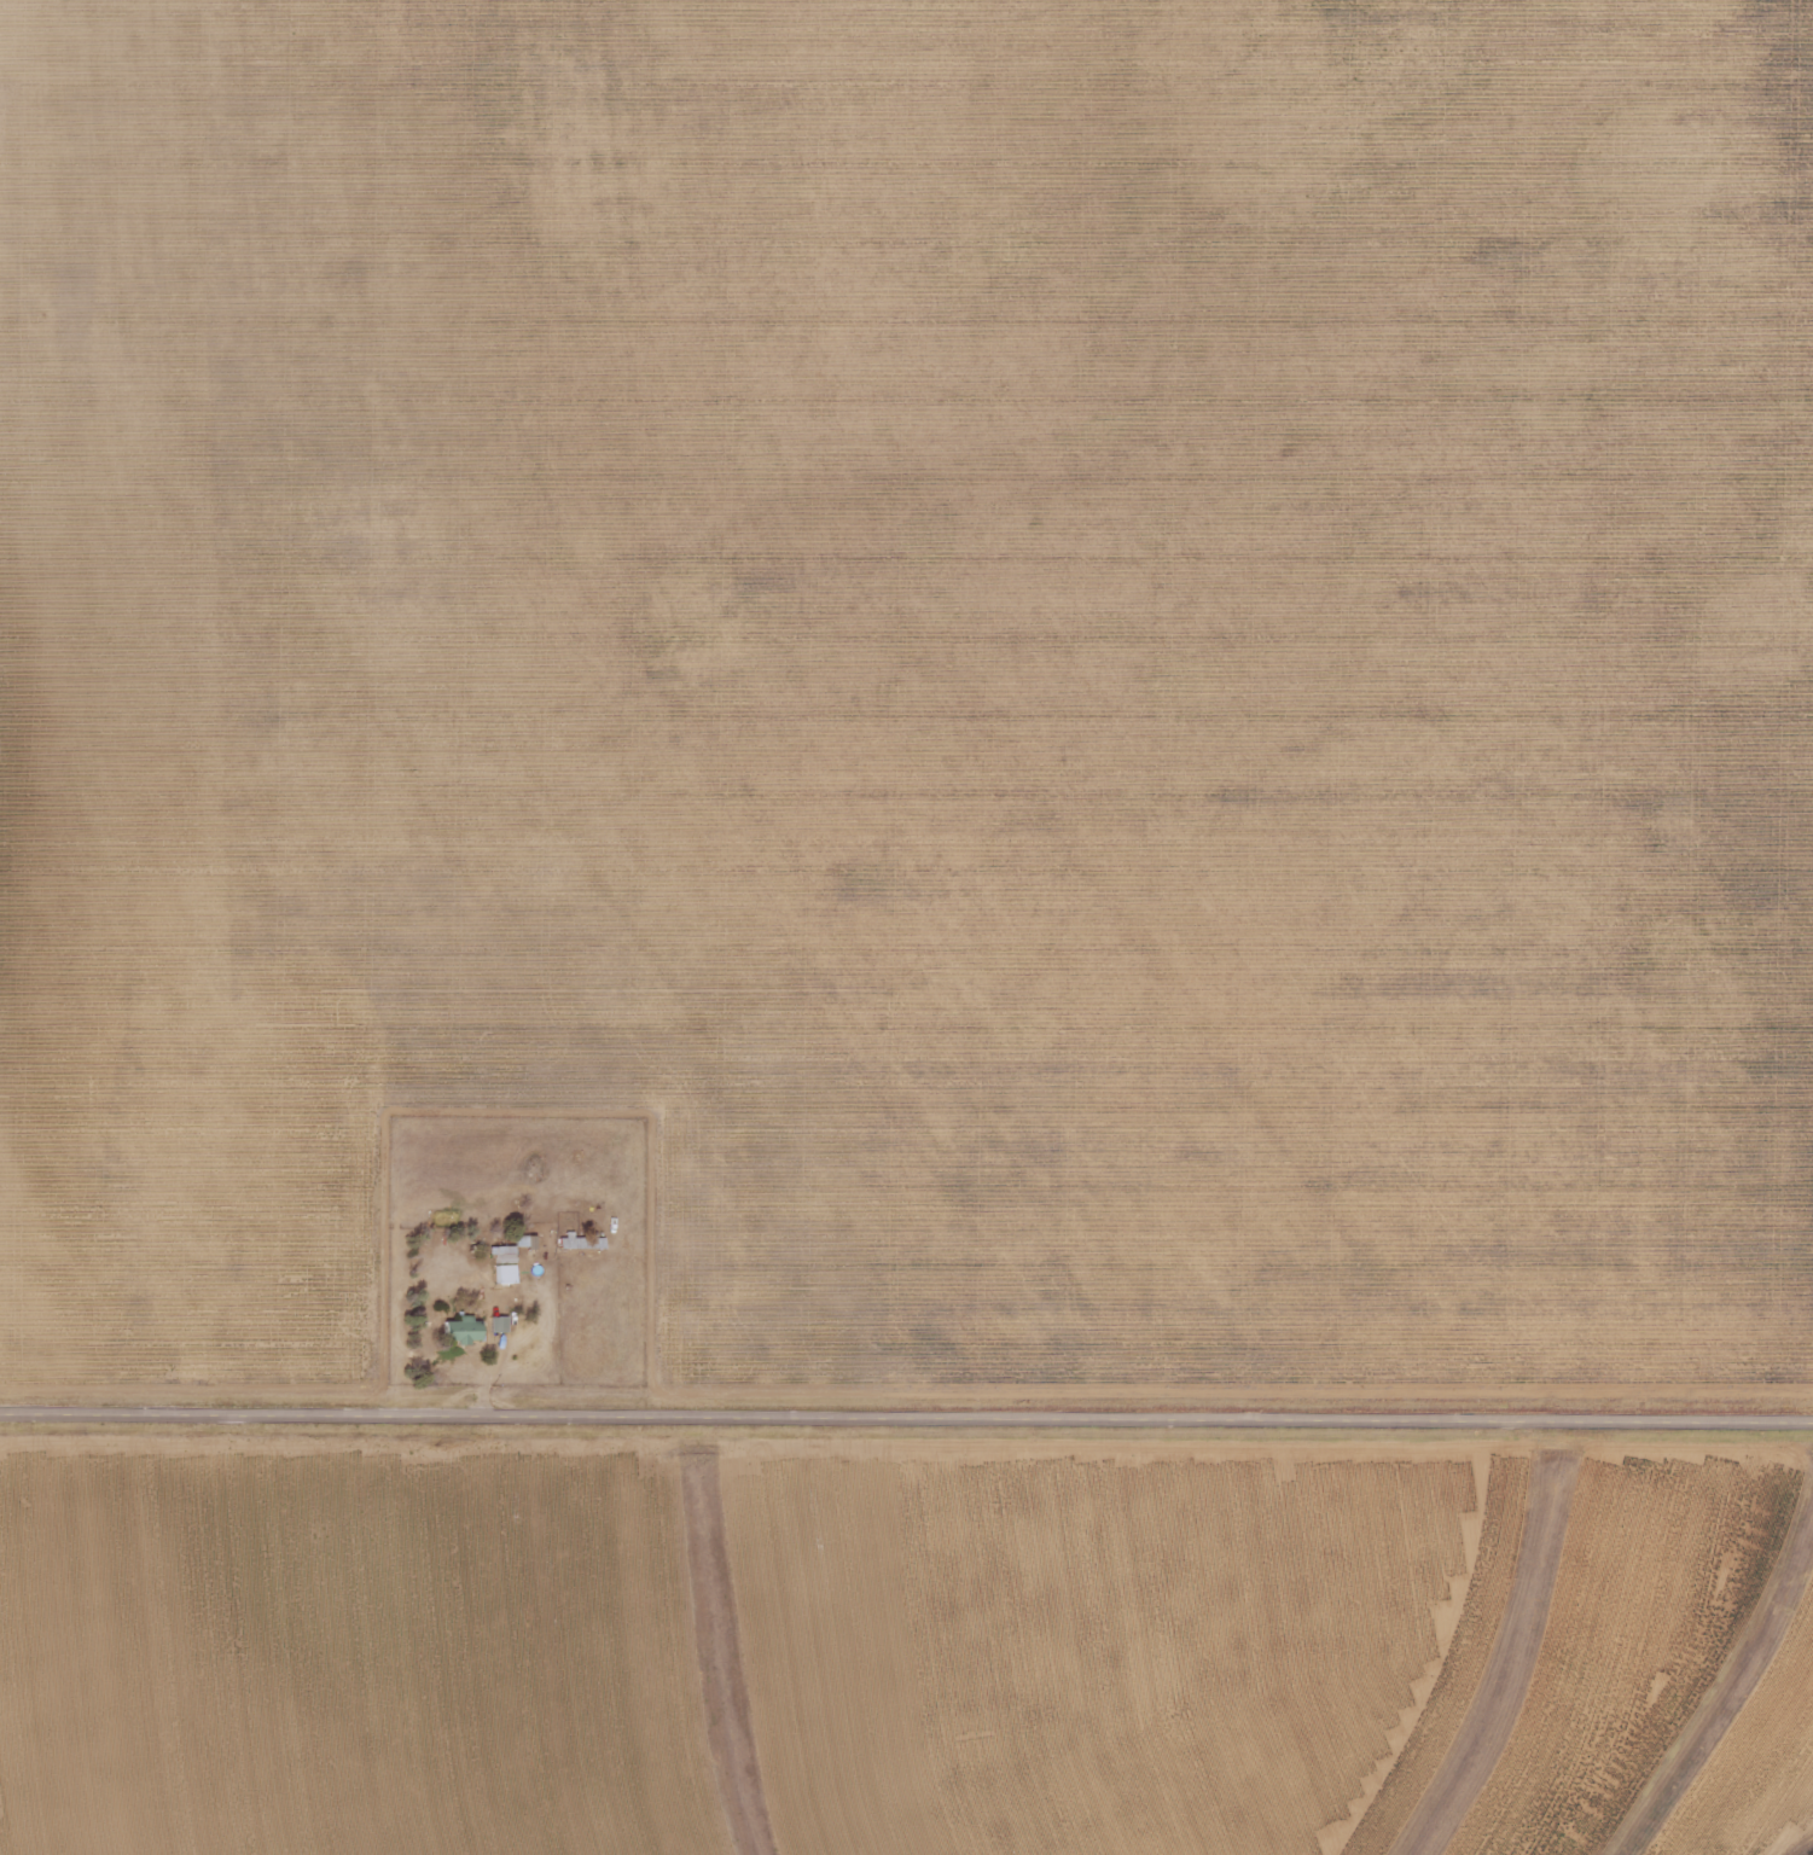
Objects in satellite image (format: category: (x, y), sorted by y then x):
road: (510, 1351)
road: (906, 1424)

